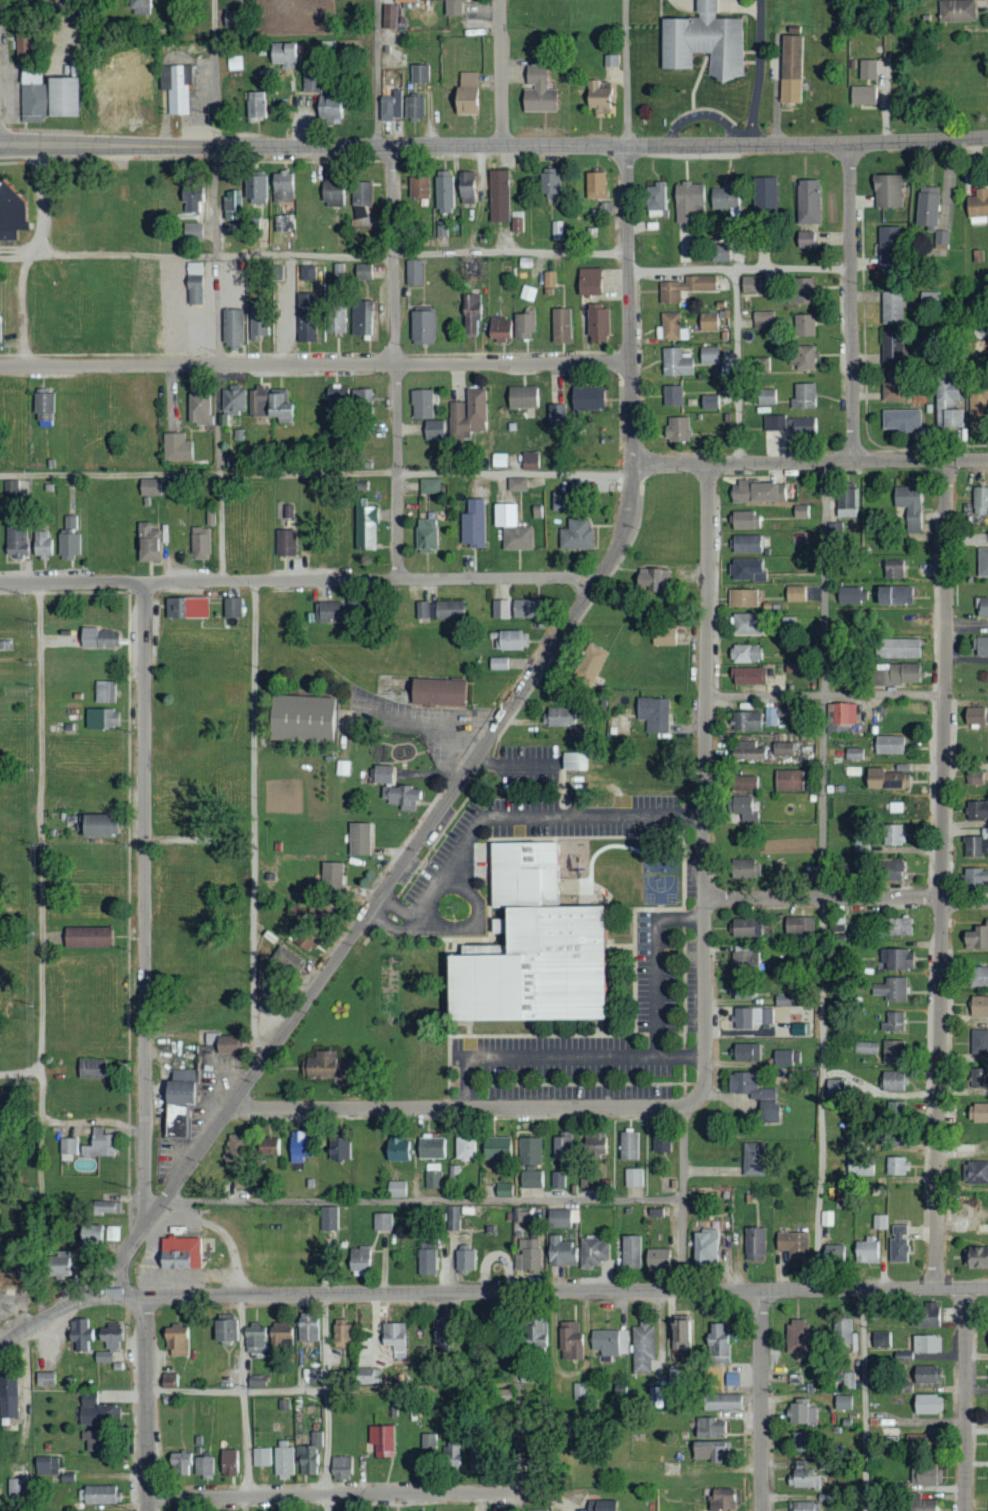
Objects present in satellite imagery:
building: (403, 0)
road: (16, 6)
building: (139, 7)
building: (453, 7)
building: (956, 10)
building: (388, 16)
building: (708, 39)
building: (21, 47)
building: (282, 54)
building: (611, 60)
building: (234, 63)
road: (758, 67)
building: (790, 68)
building: (867, 69)
road: (214, 73)
road: (376, 73)
building: (419, 73)
road: (500, 73)
road: (626, 73)
building: (311, 84)
building: (176, 87)
building: (536, 91)
building: (962, 92)
building: (466, 94)
building: (863, 95)
building: (45, 96)
building: (597, 97)
building: (254, 104)
road: (704, 105)
building: (391, 106)
building: (413, 107)
building: (328, 109)
road: (494, 146)
building: (549, 184)
building: (595, 185)
building: (281, 186)
building: (417, 187)
building: (254, 188)
building: (887, 190)
building: (443, 191)
building: (332, 193)
building: (764, 193)
building: (498, 195)
building: (464, 196)
building: (360, 198)
building: (655, 199)
building: (724, 199)
building: (190, 200)
building: (689, 201)
building: (806, 201)
building: (232, 204)
building: (926, 206)
building: (977, 206)
building: (605, 208)
building: (10, 214)
building: (516, 221)
building: (284, 222)
building: (260, 225)
building: (426, 226)
building: (230, 227)
building: (441, 228)
building: (556, 230)
building: (192, 231)
building: (365, 233)
building: (941, 238)
building: (804, 239)
building: (888, 248)
road: (314, 254)
building: (977, 256)
road: (739, 269)
building: (338, 270)
building: (362, 271)
building: (304, 272)
building: (413, 272)
building: (548, 279)
building: (588, 281)
building: (750, 284)
building: (685, 287)
building: (193, 289)
building: (801, 290)
road: (851, 302)
road: (628, 305)
building: (891, 307)
building: (470, 314)
building: (305, 317)
building: (361, 318)
building: (335, 319)
building: (762, 319)
building: (708, 321)
building: (596, 324)
building: (523, 325)
building: (560, 325)
building: (802, 325)
building: (257, 326)
building: (672, 326)
building: (231, 327)
building: (421, 327)
building: (498, 328)
building: (284, 331)
building: (891, 346)
building: (709, 355)
building: (802, 357)
road: (395, 362)
building: (675, 362)
road: (215, 363)
building: (761, 364)
road: (314, 365)
road: (737, 366)
building: (891, 386)
building: (671, 395)
building: (803, 395)
building: (766, 396)
building: (335, 397)
building: (521, 397)
building: (586, 398)
building: (232, 400)
building: (359, 401)
building: (709, 401)
building: (977, 401)
building: (945, 403)
building: (420, 404)
building: (41, 406)
building: (199, 409)
building: (556, 413)
building: (467, 414)
building: (900, 419)
building: (788, 424)
building: (365, 426)
building: (676, 428)
building: (433, 429)
building: (177, 447)
building: (498, 459)
building: (529, 460)
road: (809, 462)
road: (315, 472)
building: (516, 484)
building: (428, 486)
building: (11, 487)
building: (148, 487)
building: (757, 492)
building: (845, 499)
building: (979, 500)
building: (560, 501)
building: (910, 506)
building: (288, 511)
building: (800, 511)
building: (745, 520)
building: (472, 524)
building: (364, 525)
building: (510, 528)
building: (834, 531)
building: (425, 535)
building: (575, 535)
building: (68, 540)
building: (147, 543)
building: (199, 543)
building: (285, 543)
building: (15, 544)
building: (41, 544)
building: (746, 544)
building: (982, 562)
building: (893, 569)
building: (747, 570)
road: (297, 580)
building: (653, 580)
building: (795, 593)
building: (848, 595)
building: (893, 595)
building: (742, 598)
building: (982, 606)
building: (231, 607)
building: (185, 608)
building: (523, 608)
building: (500, 609)
building: (439, 610)
building: (332, 611)
building: (746, 624)
building: (662, 636)
building: (97, 638)
building: (510, 640)
building: (980, 646)
building: (897, 648)
building: (746, 654)
building: (498, 663)
building: (588, 664)
building: (896, 675)
building: (749, 676)
building: (104, 692)
building: (435, 693)
road: (825, 695)
building: (653, 714)
building: (843, 714)
building: (975, 715)
building: (770, 716)
building: (558, 717)
building: (100, 719)
building: (297, 719)
building: (746, 721)
building: (575, 731)
building: (888, 745)
building: (782, 749)
building: (745, 750)
building: (854, 754)
building: (572, 761)
building: (341, 768)
building: (852, 771)
building: (382, 774)
building: (974, 778)
building: (885, 779)
building: (788, 780)
building: (743, 783)
road: (705, 789)
building: (400, 796)
building: (896, 807)
building: (740, 809)
building: (977, 810)
road: (557, 815)
road: (254, 822)
parking lot: (529, 822)
building: (96, 826)
building: (894, 834)
building: (358, 839)
road: (200, 841)
building: (975, 846)
building: (743, 868)
building: (892, 870)
road: (943, 874)
road: (820, 875)
building: (331, 876)
building: (976, 878)
road: (385, 886)
park: (659, 888)
road: (845, 897)
road: (432, 900)
road: (144, 904)
road: (398, 904)
road: (422, 922)
building: (798, 925)
building: (899, 926)
building: (746, 928)
road: (453, 933)
building: (86, 937)
building: (977, 937)
building: (538, 949)
road: (41, 952)
building: (897, 959)
building: (285, 960)
building: (744, 960)
parking lot: (667, 972)
building: (978, 976)
road: (662, 981)
building: (891, 989)
building: (783, 1000)
building: (978, 1006)
building: (751, 1017)
building: (894, 1022)
building: (797, 1030)
building: (978, 1042)
building: (220, 1043)
building: (865, 1047)
building: (745, 1052)
building: (893, 1052)
road: (541, 1055)
building: (786, 1058)
building: (90, 1068)
building: (325, 1068)
road: (20, 1071)
building: (978, 1080)
building: (891, 1082)
building: (834, 1088)
building: (765, 1099)
building: (177, 1102)
road: (459, 1107)
building: (978, 1112)
building: (901, 1123)
building: (98, 1144)
building: (629, 1145)
building: (662, 1146)
building: (266, 1147)
building: (297, 1147)
building: (430, 1147)
building: (495, 1148)
building: (561, 1148)
building: (594, 1148)
building: (337, 1149)
building: (464, 1149)
building: (67, 1150)
building: (235, 1150)
building: (397, 1150)
building: (528, 1152)
building: (753, 1159)
building: (858, 1166)
building: (895, 1166)
building: (976, 1173)
building: (432, 1176)
building: (633, 1178)
building: (531, 1179)
building: (557, 1180)
building: (396, 1189)
building: (503, 1190)
road: (423, 1198)
road: (681, 1198)
building: (103, 1208)
building: (520, 1214)
building: (328, 1218)
building: (561, 1218)
building: (452, 1219)
building: (826, 1219)
building: (382, 1222)
building: (879, 1222)
building: (111, 1234)
building: (89, 1236)
building: (754, 1245)
building: (793, 1245)
building: (898, 1245)
building: (705, 1247)
building: (559, 1251)
building: (866, 1251)
building: (630, 1252)
building: (592, 1253)
building: (178, 1254)
building: (832, 1254)
building: (528, 1256)
building: (975, 1258)
building: (657, 1259)
building: (358, 1260)
building: (464, 1261)
building: (426, 1262)
building: (58, 1265)
road: (548, 1292)
building: (927, 1314)
road: (51, 1315)
building: (306, 1329)
building: (842, 1330)
building: (222, 1332)
building: (440, 1333)
building: (680, 1333)
building: (535, 1334)
building: (80, 1335)
building: (340, 1336)
building: (797, 1336)
building: (279, 1338)
building: (987, 1338)
building: (393, 1339)
building: (880, 1339)
building: (254, 1340)
building: (175, 1341)
building: (108, 1342)
building: (570, 1342)
building: (609, 1343)
building: (926, 1343)
building: (718, 1344)
building: (642, 1349)
building: (926, 1374)
building: (311, 1376)
building: (362, 1376)
building: (45, 1379)
building: (848, 1379)
building: (255, 1381)
road: (331, 1388)
road: (242, 1395)
building: (650, 1396)
building: (8, 1397)
road: (965, 1399)
road: (761, 1400)
road: (863, 1400)
road: (326, 1402)
road: (517, 1402)
building: (721, 1402)
building: (842, 1402)
road: (146, 1403)
building: (926, 1403)
building: (95, 1411)
building: (800, 1411)
building: (709, 1427)
building: (381, 1439)
building: (915, 1439)
building: (89, 1440)
building: (428, 1440)
building: (803, 1441)
building: (709, 1450)
building: (452, 1455)
building: (261, 1456)
building: (308, 1456)
building: (283, 1459)
building: (226, 1462)
building: (180, 1463)
building: (203, 1466)
building: (341, 1466)
building: (47, 1469)
building: (803, 1475)
building: (926, 1476)
building: (15, 1486)
building: (100, 1493)
road: (333, 1494)
building: (721, 1498)
building: (920, 1503)
building: (601, 1505)
building: (804, 1506)
building: (234, 1510)
building: (533, 1510)

